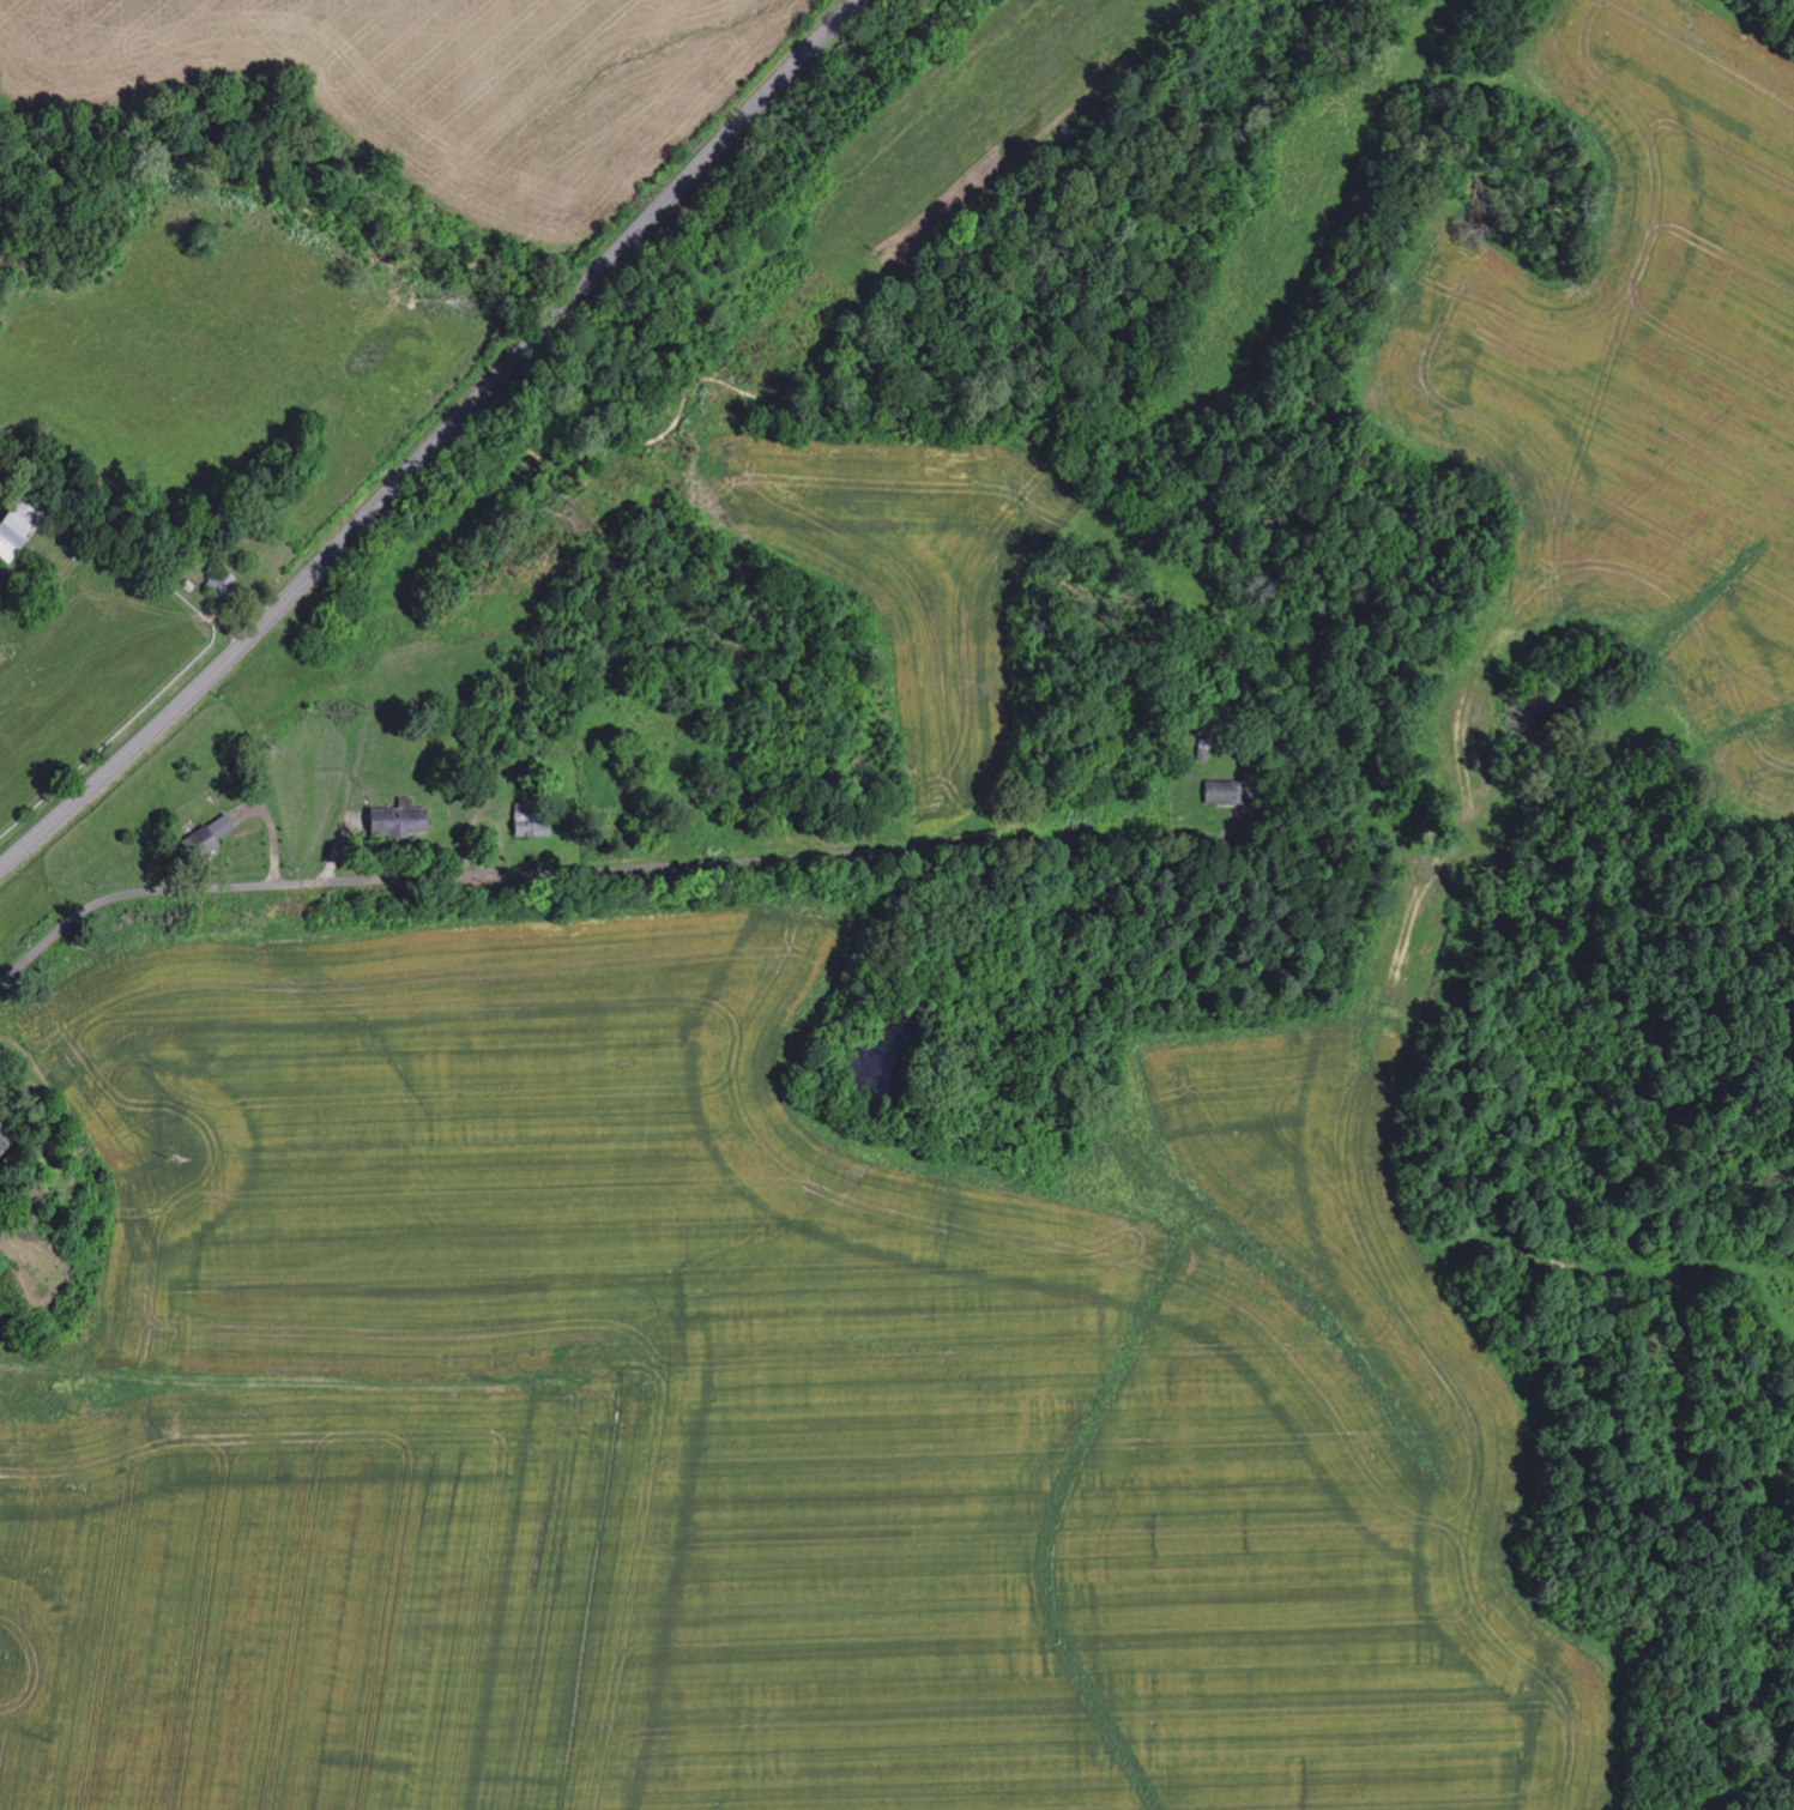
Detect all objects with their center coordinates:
road: (436, 441)
building: (16, 532)
building: (224, 581)
building: (1222, 794)
building: (403, 821)
building: (215, 835)
road: (598, 871)

